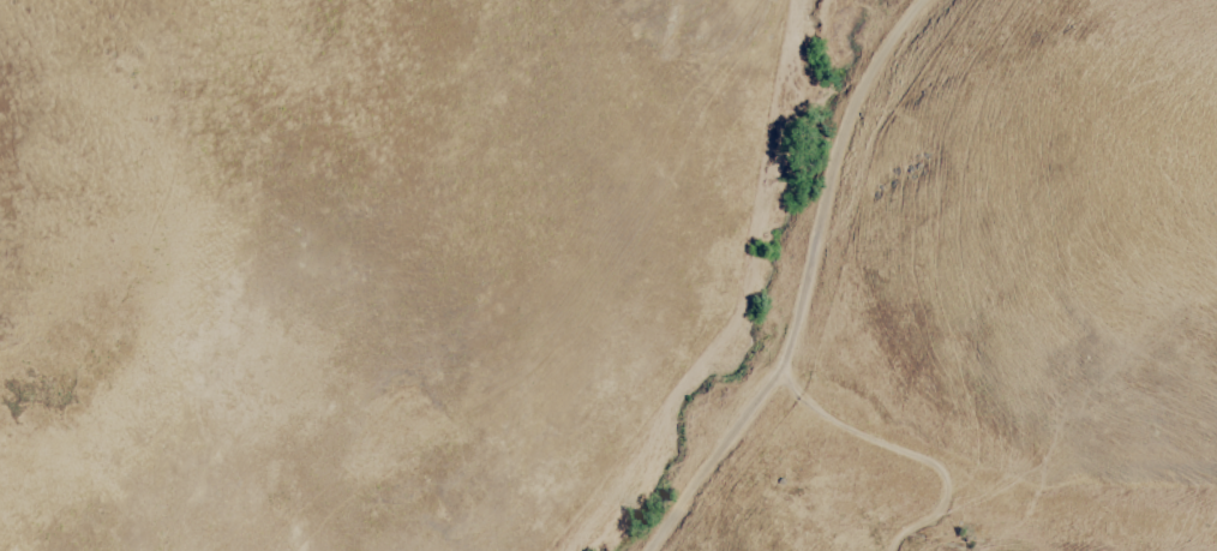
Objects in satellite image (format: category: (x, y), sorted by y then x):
road: (808, 283)
road: (906, 454)

